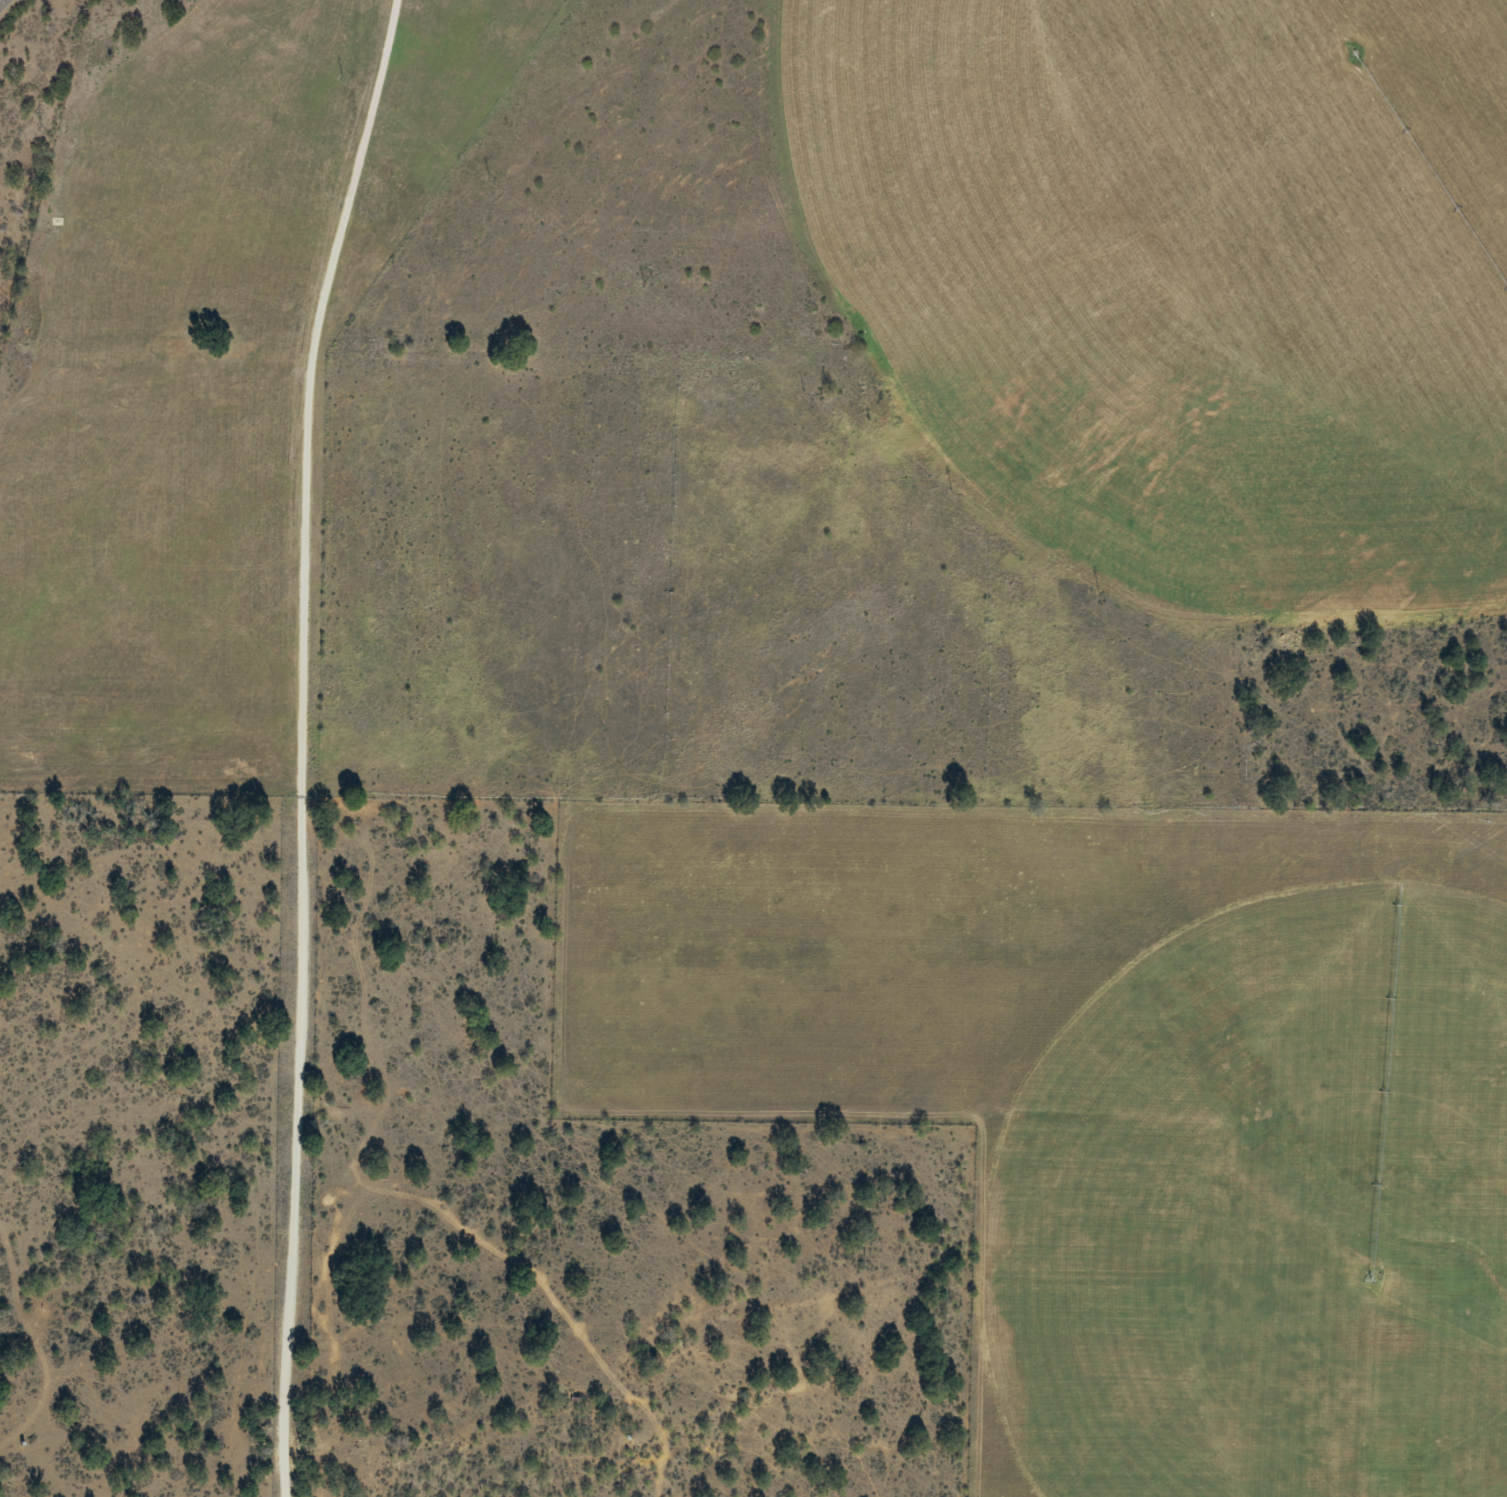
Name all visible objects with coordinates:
road: (5, 5)
crop: (1187, 276)

